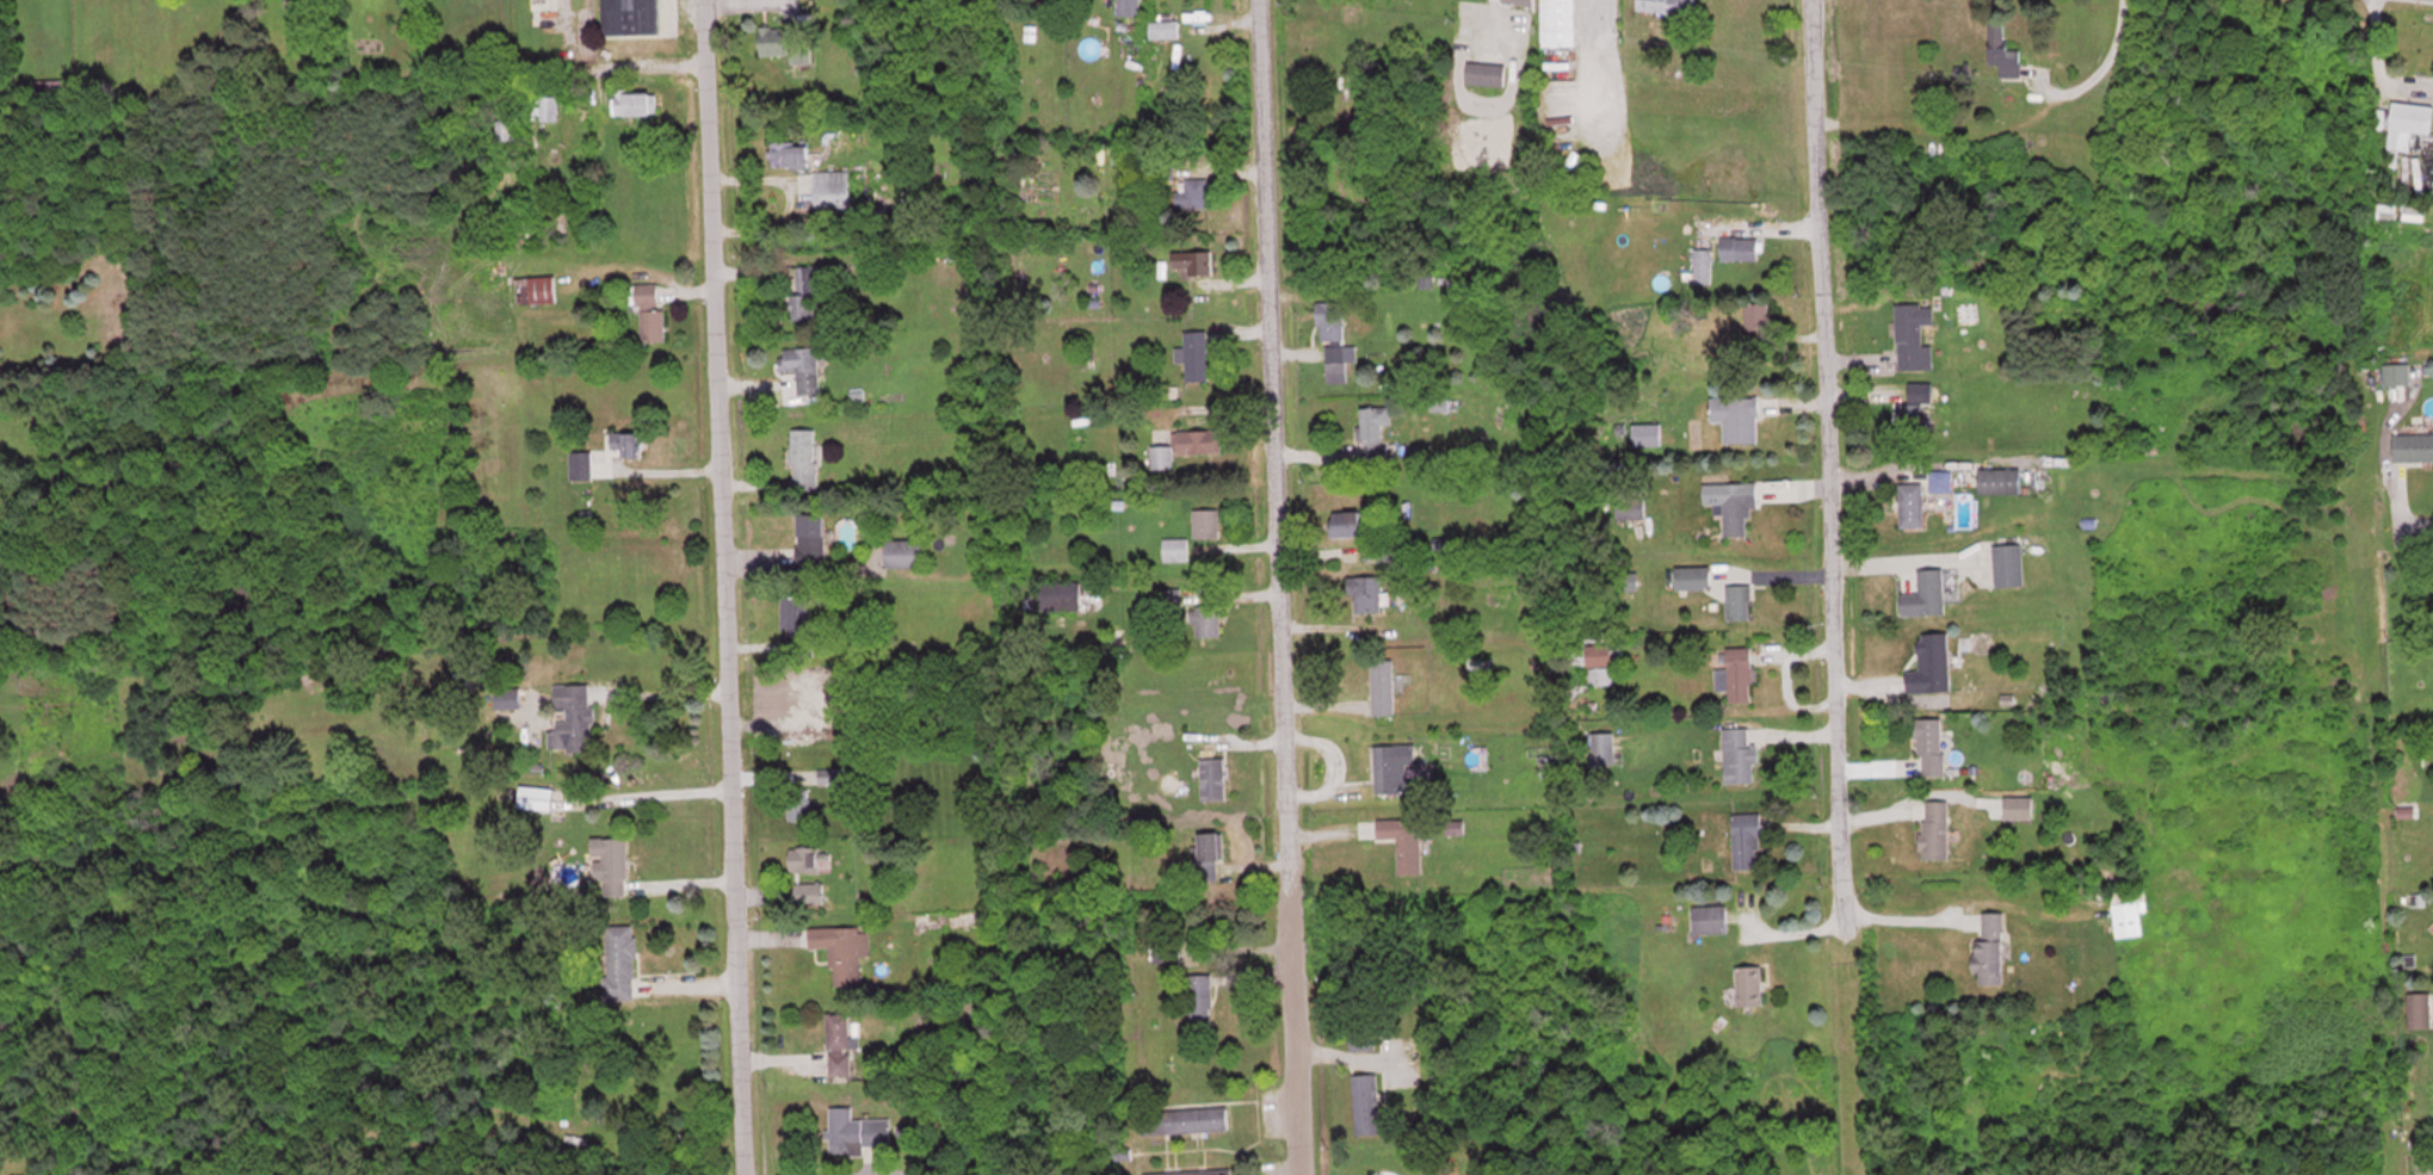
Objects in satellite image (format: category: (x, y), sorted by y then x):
building: (1520, 1)
building: (1666, 6)
building: (1129, 7)
building: (544, 14)
building: (1197, 14)
building: (631, 17)
building: (1558, 23)
building: (1165, 29)
building: (784, 42)
building: (2003, 52)
building: (1486, 74)
building: (49, 87)
building: (636, 104)
building: (544, 109)
building: (2408, 124)
building: (506, 130)
building: (789, 154)
building: (832, 188)
building: (1196, 193)
building: (1740, 248)
building: (1194, 261)
building: (1703, 266)
building: (535, 290)
building: (807, 290)
building: (649, 311)
building: (1758, 316)
building: (1330, 321)
building: (1914, 336)
building: (1197, 354)
building: (1339, 361)
building: (802, 366)
building: (2397, 373)
building: (1913, 412)
building: (1737, 416)
building: (1376, 432)
building: (626, 443)
building: (1184, 446)
building: (2414, 446)
building: (803, 457)
building: (579, 462)
building: (1941, 481)
building: (2000, 481)
building: (1912, 505)
building: (1630, 506)
building: (1739, 507)
road: (1809, 512)
building: (1206, 521)
building: (1347, 521)
road: (2396, 525)
building: (811, 531)
building: (903, 549)
building: (1175, 549)
building: (2008, 564)
building: (1694, 576)
road: (717, 587)
road: (1276, 587)
road: (1827, 587)
building: (1366, 593)
building: (1926, 593)
building: (1061, 594)
building: (1737, 600)
building: (796, 616)
building: (1206, 619)
building: (1600, 663)
building: (1932, 663)
building: (1737, 673)
building: (1383, 685)
building: (507, 697)
building: (573, 715)
building: (1932, 744)
building: (1604, 746)
building: (1739, 754)
building: (1394, 767)
building: (830, 774)
building: (1212, 777)
building: (536, 796)
building: (798, 803)
building: (2019, 805)
building: (274, 817)
building: (1937, 828)
building: (1747, 839)
building: (1404, 840)
building: (1209, 854)
building: (804, 856)
building: (610, 864)
building: (814, 891)
building: (2129, 909)
building: (1710, 917)
building: (1990, 948)
building: (845, 952)
building: (620, 960)
building: (1749, 984)
building: (1200, 1002)
building: (2420, 1008)
building: (1360, 1019)
building: (839, 1035)
building: (1365, 1102)
building: (1184, 1119)
building: (857, 1128)
building: (1437, 1167)
building: (1192, 1171)

